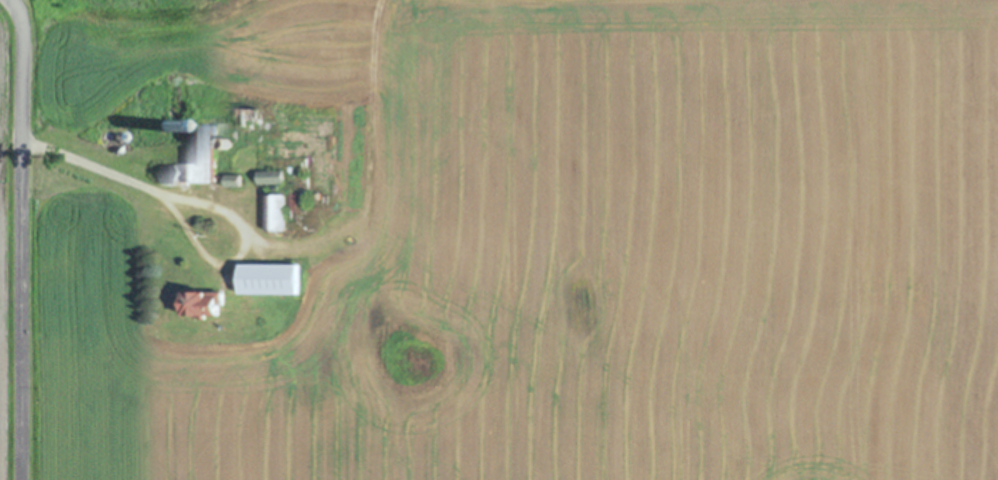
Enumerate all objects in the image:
building: (244, 117)
building: (194, 158)
road: (94, 165)
building: (269, 177)
building: (274, 213)
road: (21, 238)
road: (239, 248)
building: (268, 279)
building: (200, 304)

